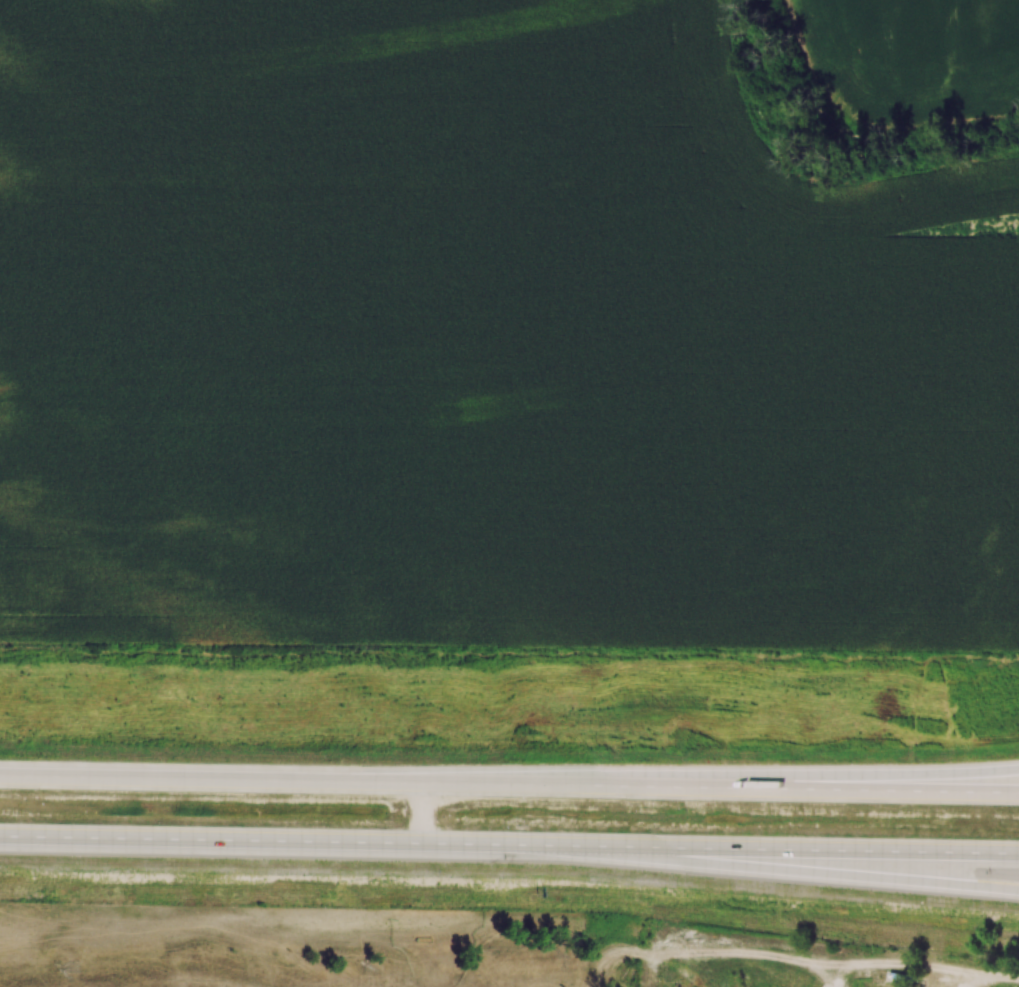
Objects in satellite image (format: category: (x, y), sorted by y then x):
road: (763, 777)
road: (509, 784)
road: (422, 812)
road: (509, 842)
road: (768, 865)
road: (995, 979)

